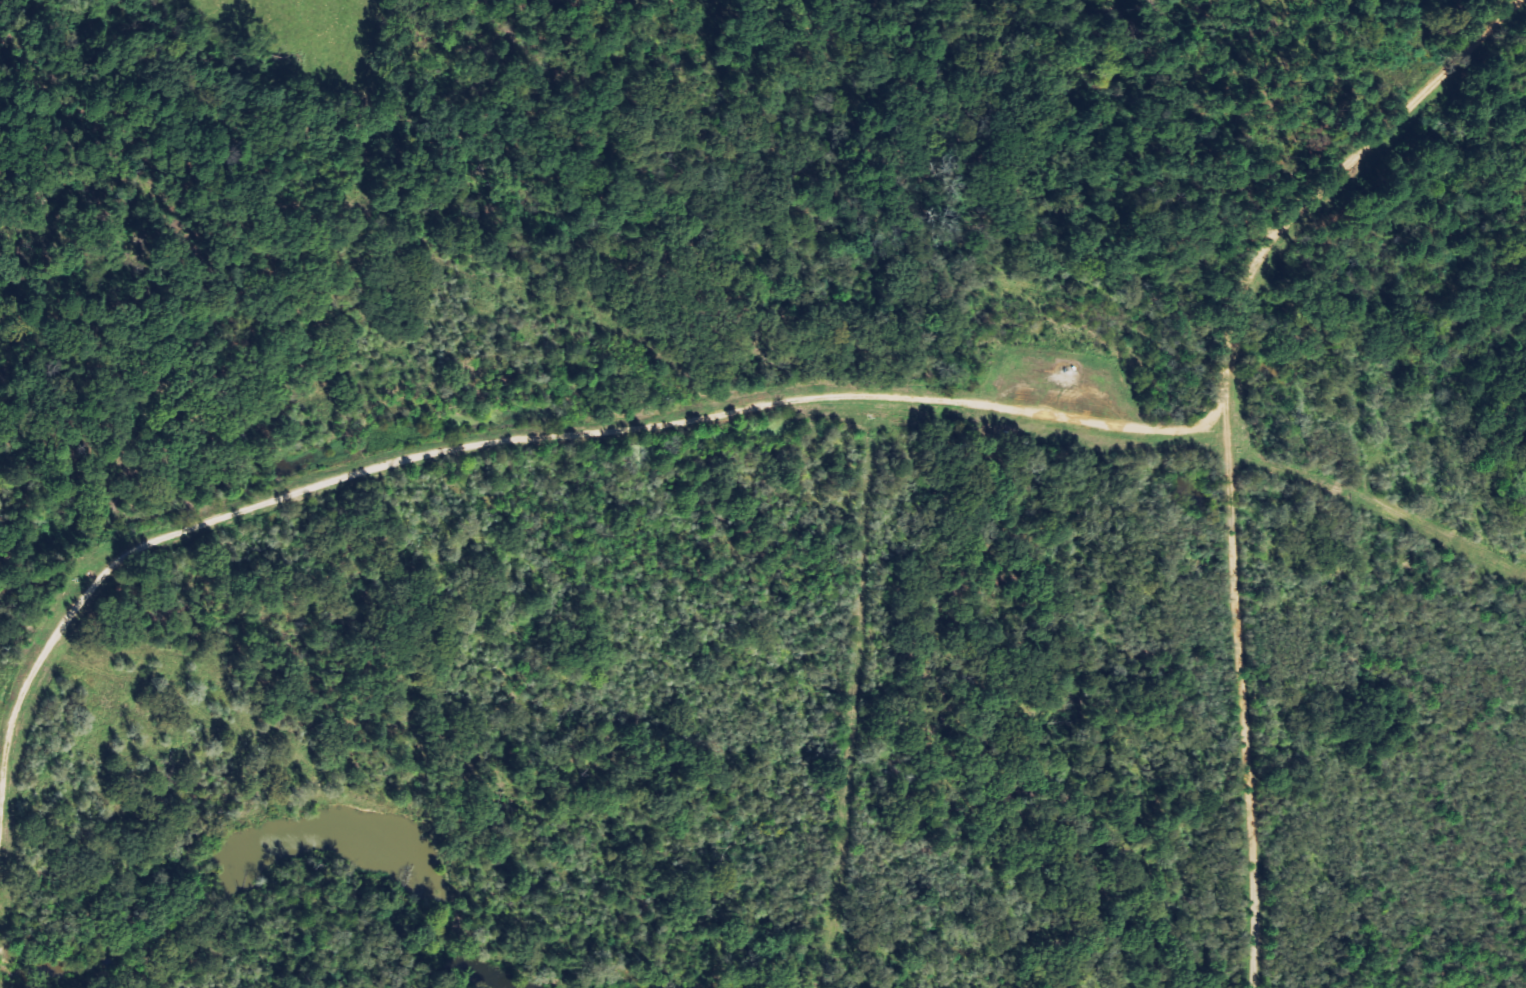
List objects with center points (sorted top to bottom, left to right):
road: (1222, 436)

